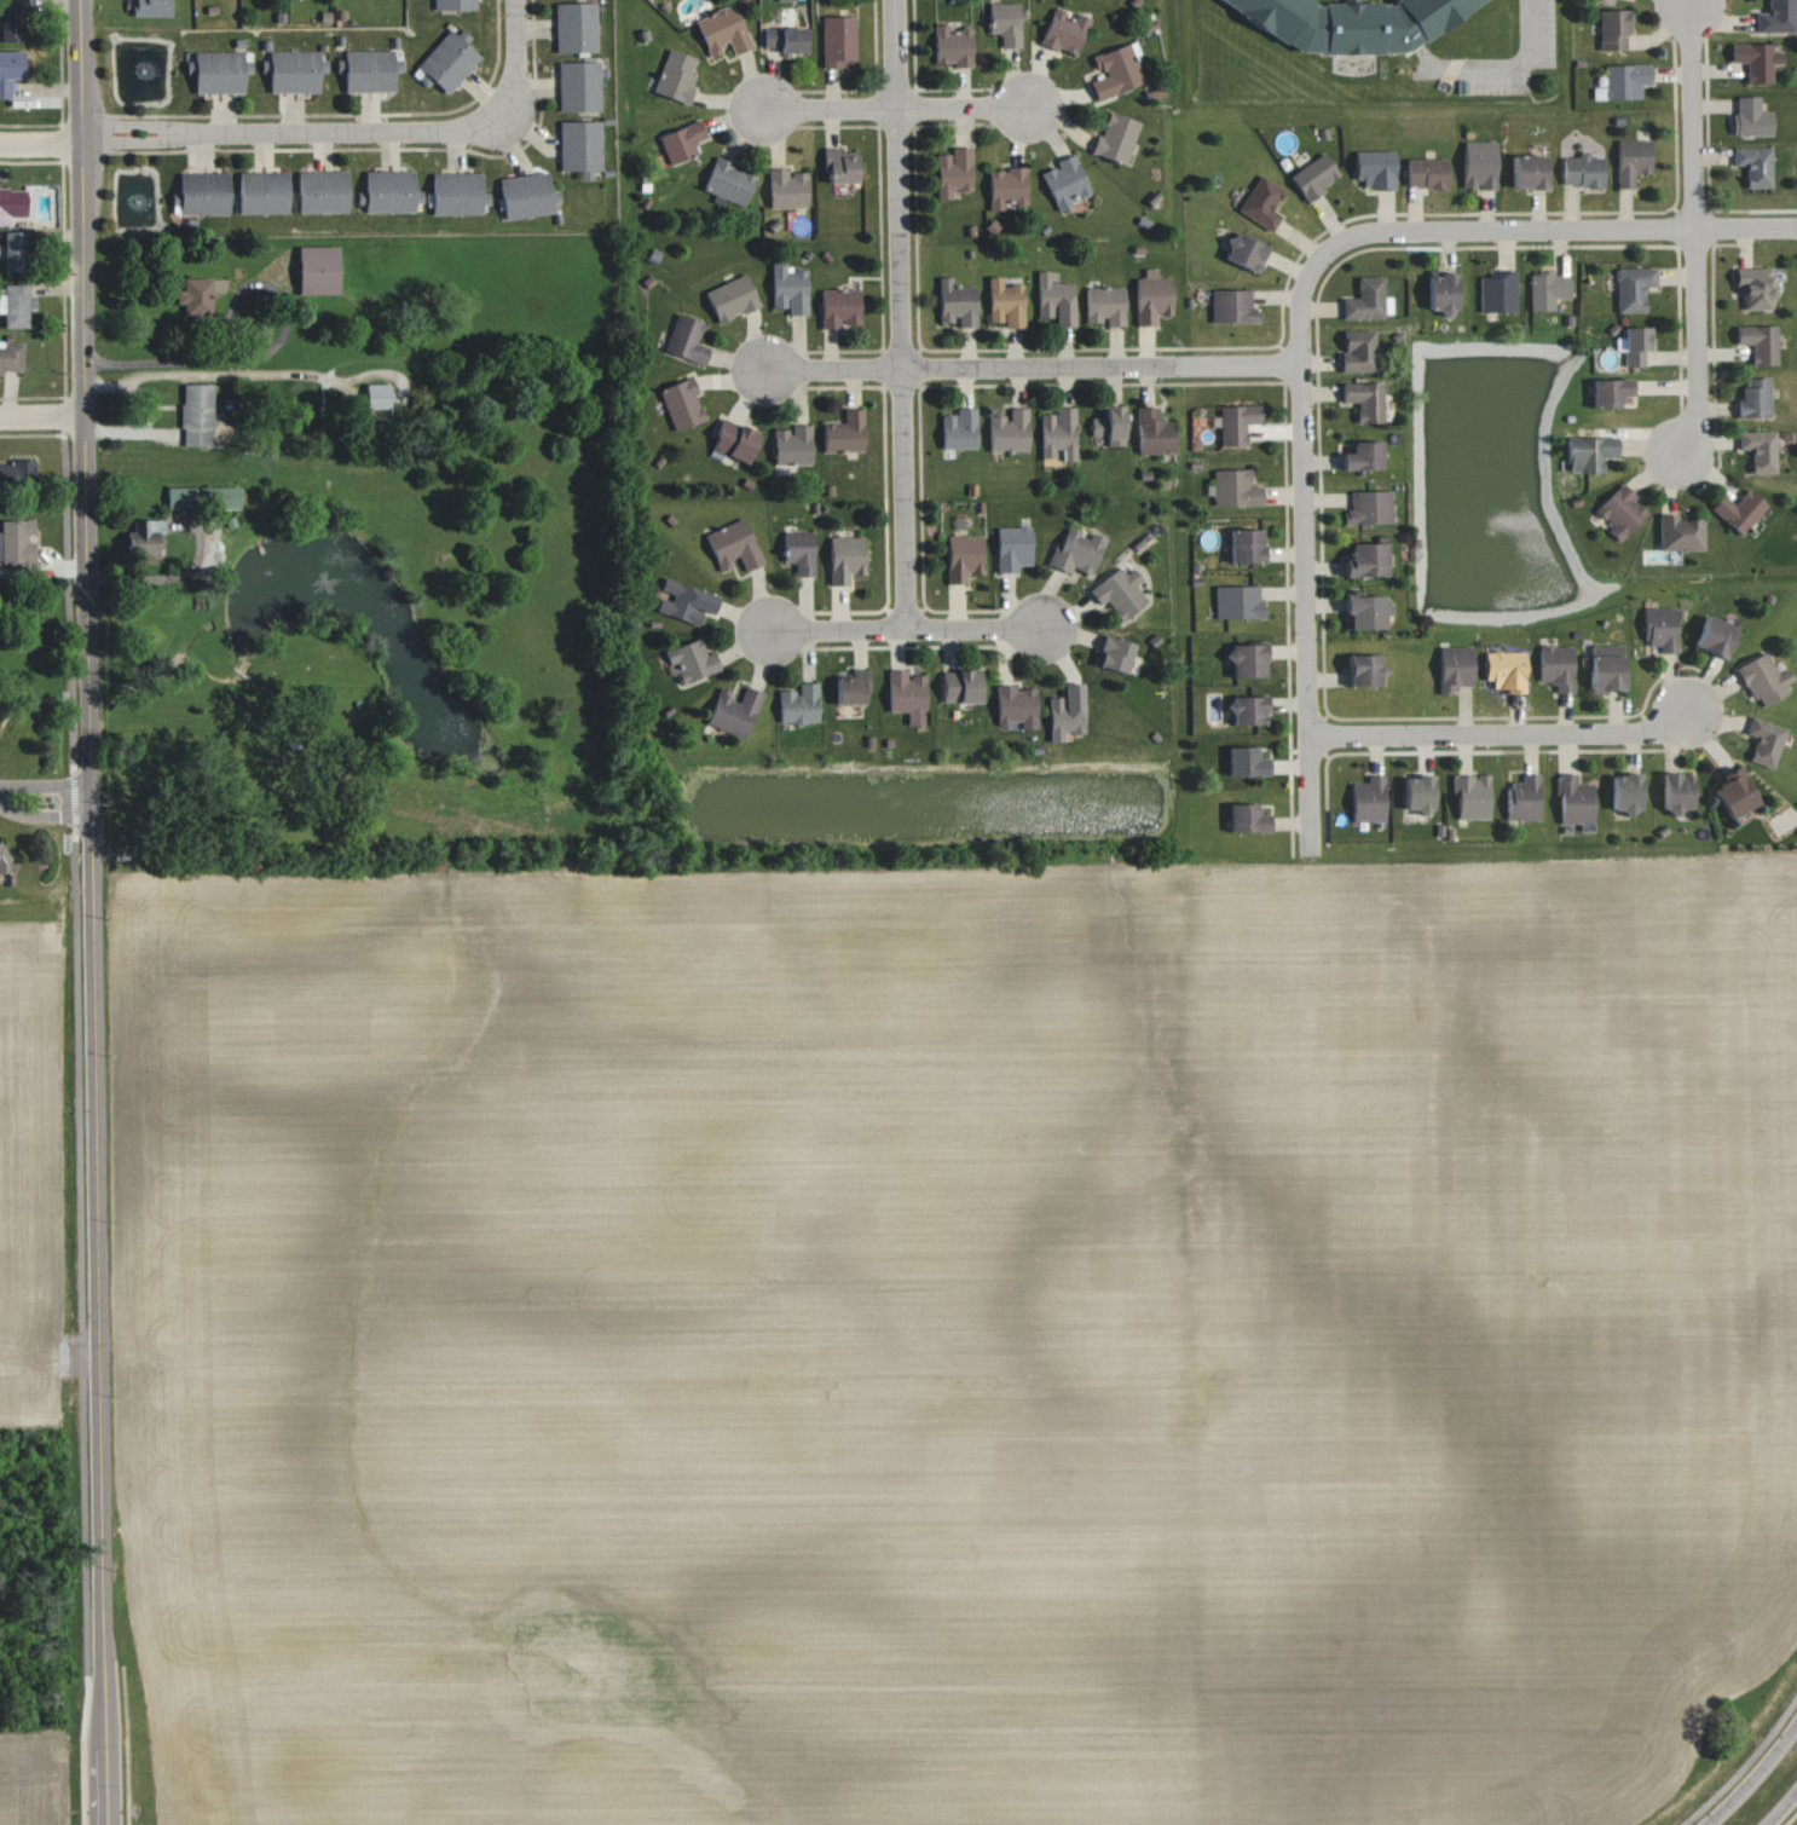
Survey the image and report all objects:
building: (455, 5)
building: (152, 8)
building: (1778, 17)
building: (12, 22)
building: (1006, 22)
building: (1351, 22)
building: (576, 28)
building: (1613, 28)
building: (723, 30)
building: (1064, 30)
building: (786, 37)
building: (839, 40)
building: (952, 45)
building: (1757, 59)
building: (446, 62)
road: (1512, 69)
building: (10, 70)
building: (294, 70)
building: (369, 70)
building: (1115, 70)
building: (218, 71)
building: (676, 75)
building: (1624, 81)
building: (579, 85)
road: (960, 106)
road: (827, 108)
building: (1752, 116)
road: (515, 126)
road: (345, 132)
building: (1116, 135)
building: (682, 140)
road: (39, 145)
building: (580, 145)
building: (1633, 160)
building: (1479, 164)
building: (1755, 164)
building: (840, 166)
building: (1375, 167)
building: (1529, 169)
building: (1584, 169)
building: (953, 171)
building: (1427, 172)
building: (1314, 175)
building: (1065, 180)
building: (729, 181)
building: (1006, 186)
building: (787, 187)
building: (322, 191)
building: (389, 191)
building: (202, 192)
building: (262, 192)
building: (456, 192)
building: (526, 195)
building: (1262, 202)
building: (11, 204)
road: (1694, 226)
building: (1246, 249)
building: (16, 250)
building: (318, 270)
road: (243, 278)
building: (790, 288)
building: (1634, 288)
building: (1756, 288)
building: (1548, 289)
building: (1443, 290)
building: (1498, 291)
building: (193, 295)
building: (1152, 296)
building: (732, 298)
building: (1054, 299)
building: (1365, 299)
building: (1006, 301)
building: (957, 302)
building: (16, 305)
building: (1105, 305)
building: (1233, 305)
building: (839, 306)
road: (1299, 306)
road: (897, 313)
building: (686, 337)
building: (1761, 342)
building: (1635, 343)
building: (1358, 351)
building: (11, 356)
road: (141, 360)
road: (1032, 363)
building: (1611, 391)
building: (376, 395)
building: (1755, 397)
building: (1365, 400)
building: (682, 403)
road: (40, 412)
building: (197, 414)
building: (1237, 422)
building: (1110, 425)
building: (959, 428)
building: (1010, 431)
building: (1154, 431)
building: (845, 432)
building: (1059, 433)
building: (734, 439)
building: (793, 445)
building: (1761, 450)
building: (1590, 452)
building: (1364, 455)
building: (18, 470)
building: (1235, 487)
building: (1369, 507)
building: (1740, 510)
building: (1622, 512)
building: (1681, 532)
building: (145, 537)
building: (18, 543)
building: (1246, 543)
building: (733, 545)
building: (1013, 547)
building: (799, 550)
building: (1077, 550)
building: (963, 556)
building: (845, 558)
building: (1366, 559)
road: (172, 574)
building: (1120, 591)
building: (686, 601)
building: (1238, 601)
building: (1364, 611)
road: (903, 628)
building: (1662, 628)
building: (1716, 635)
building: (1607, 649)
building: (1114, 653)
building: (1248, 659)
building: (692, 660)
building: (1556, 666)
building: (1365, 668)
building: (1456, 668)
building: (1506, 669)
building: (1607, 672)
building: (1763, 678)
building: (961, 686)
building: (853, 687)
building: (907, 694)
building: (799, 704)
building: (1016, 705)
building: (1248, 709)
building: (734, 711)
building: (1067, 711)
road: (1500, 730)
building: (1766, 741)
building: (1247, 761)
road: (44, 785)
building: (1418, 791)
building: (1628, 791)
building: (1677, 791)
building: (1735, 793)
building: (1473, 796)
building: (1524, 798)
building: (1369, 799)
building: (1574, 801)
road: (44, 815)
building: (1248, 818)
building: (4, 860)
road: (92, 912)
road: (1743, 1761)
road: (1753, 1778)
road: (1780, 1807)

